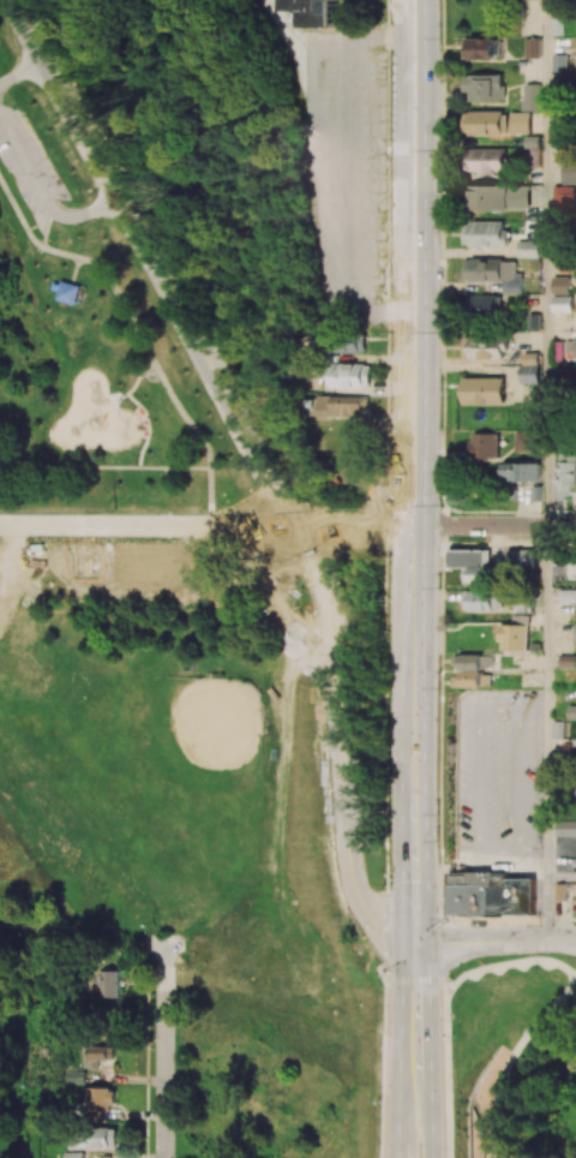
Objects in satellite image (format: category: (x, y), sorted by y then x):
building: (317, 12)
building: (480, 48)
building: (533, 48)
building: (562, 64)
road: (18, 72)
building: (485, 86)
building: (532, 97)
building: (486, 123)
building: (521, 123)
building: (490, 161)
road: (23, 162)
parking lot: (28, 169)
building: (564, 196)
building: (490, 197)
building: (520, 197)
road: (17, 217)
road: (78, 219)
road: (44, 228)
building: (486, 233)
building: (529, 249)
road: (547, 263)
road: (74, 271)
building: (494, 273)
building: (562, 285)
building: (68, 294)
building: (563, 303)
building: (485, 305)
road: (139, 342)
building: (352, 342)
building: (485, 347)
building: (571, 348)
building: (532, 368)
building: (352, 375)
road: (136, 384)
building: (485, 390)
building: (344, 406)
building: (524, 441)
building: (485, 446)
road: (257, 461)
road: (103, 468)
road: (416, 468)
building: (520, 472)
road: (241, 491)
road: (144, 525)
road: (496, 525)
road: (210, 533)
road: (16, 548)
road: (196, 549)
building: (521, 559)
building: (472, 565)
parking lot: (104, 572)
road: (106, 572)
park: (185, 578)
building: (568, 596)
building: (482, 601)
building: (516, 638)
building: (568, 661)
building: (475, 671)
road: (533, 706)
building: (572, 711)
road: (548, 733)
park: (158, 781)
road: (485, 856)
road: (533, 861)
building: (492, 894)
traffic signals: (418, 939)
road: (497, 939)
road: (510, 965)
road: (575, 975)
road: (420, 981)
building: (109, 984)
road: (403, 1047)
road: (431, 1047)
building: (96, 1055)
road: (511, 1057)
road: (166, 1059)
road: (450, 1074)
building: (100, 1102)
building: (91, 1140)
building: (73, 1154)

